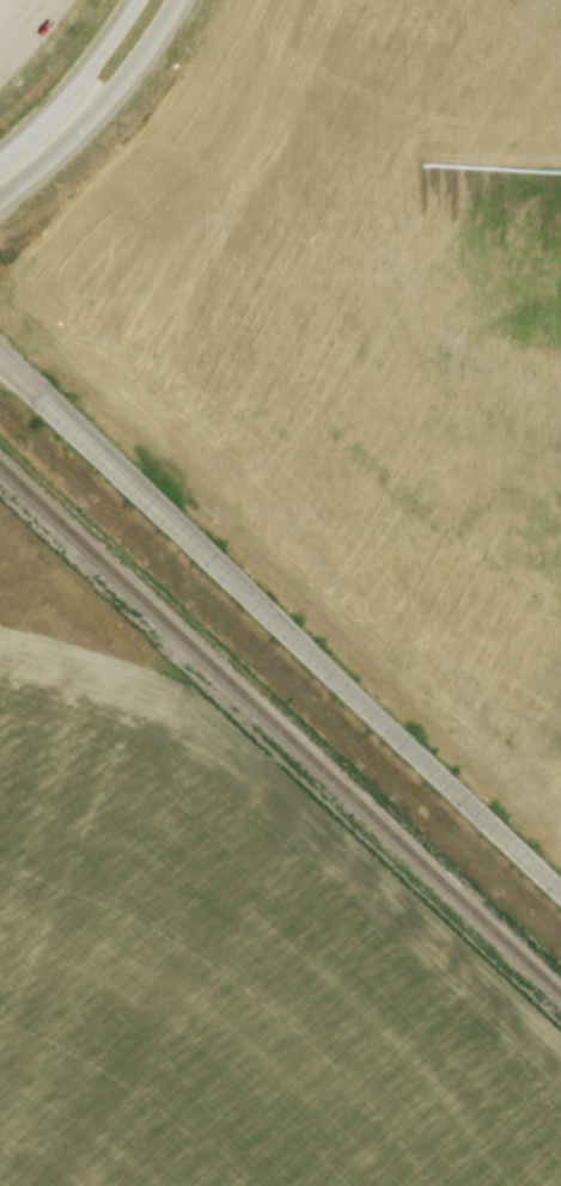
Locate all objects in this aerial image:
road: (71, 81)
road: (96, 105)
road: (281, 625)
railway: (280, 728)

